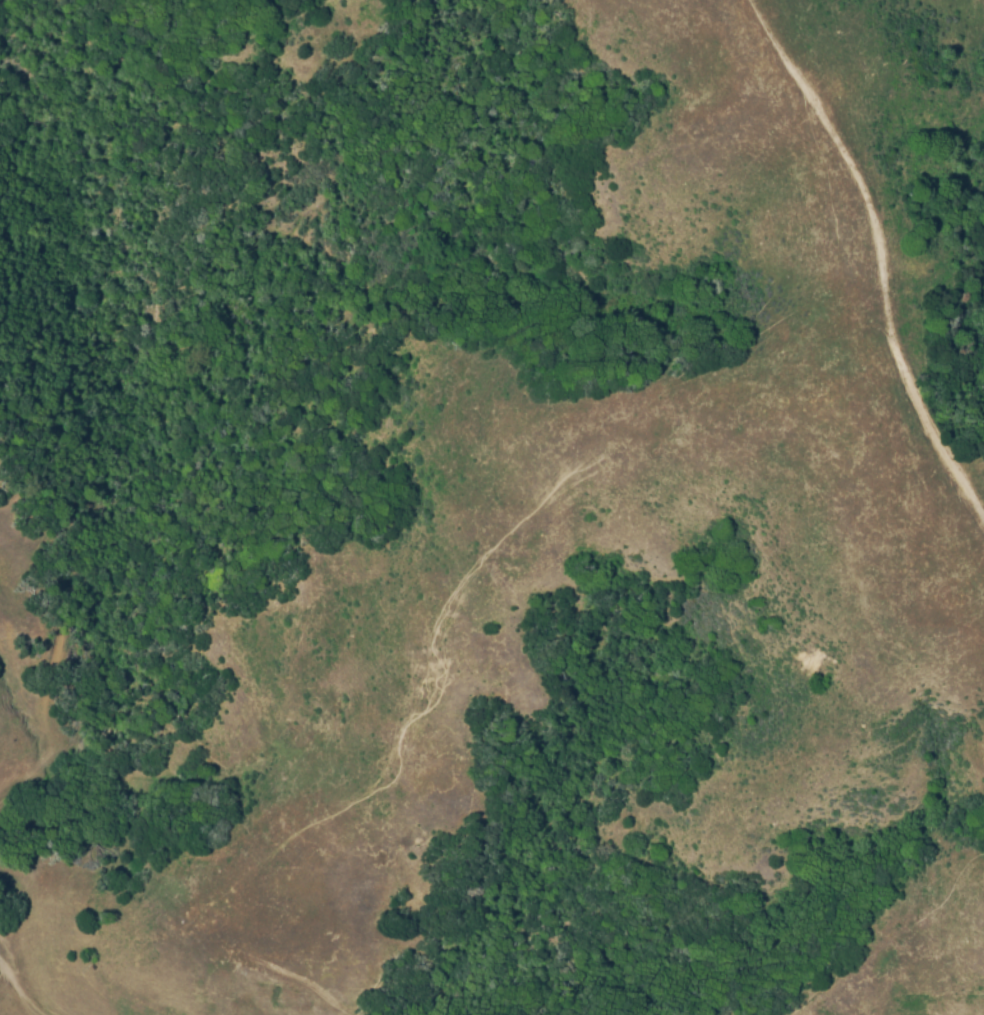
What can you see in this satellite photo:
road: (904, 211)

